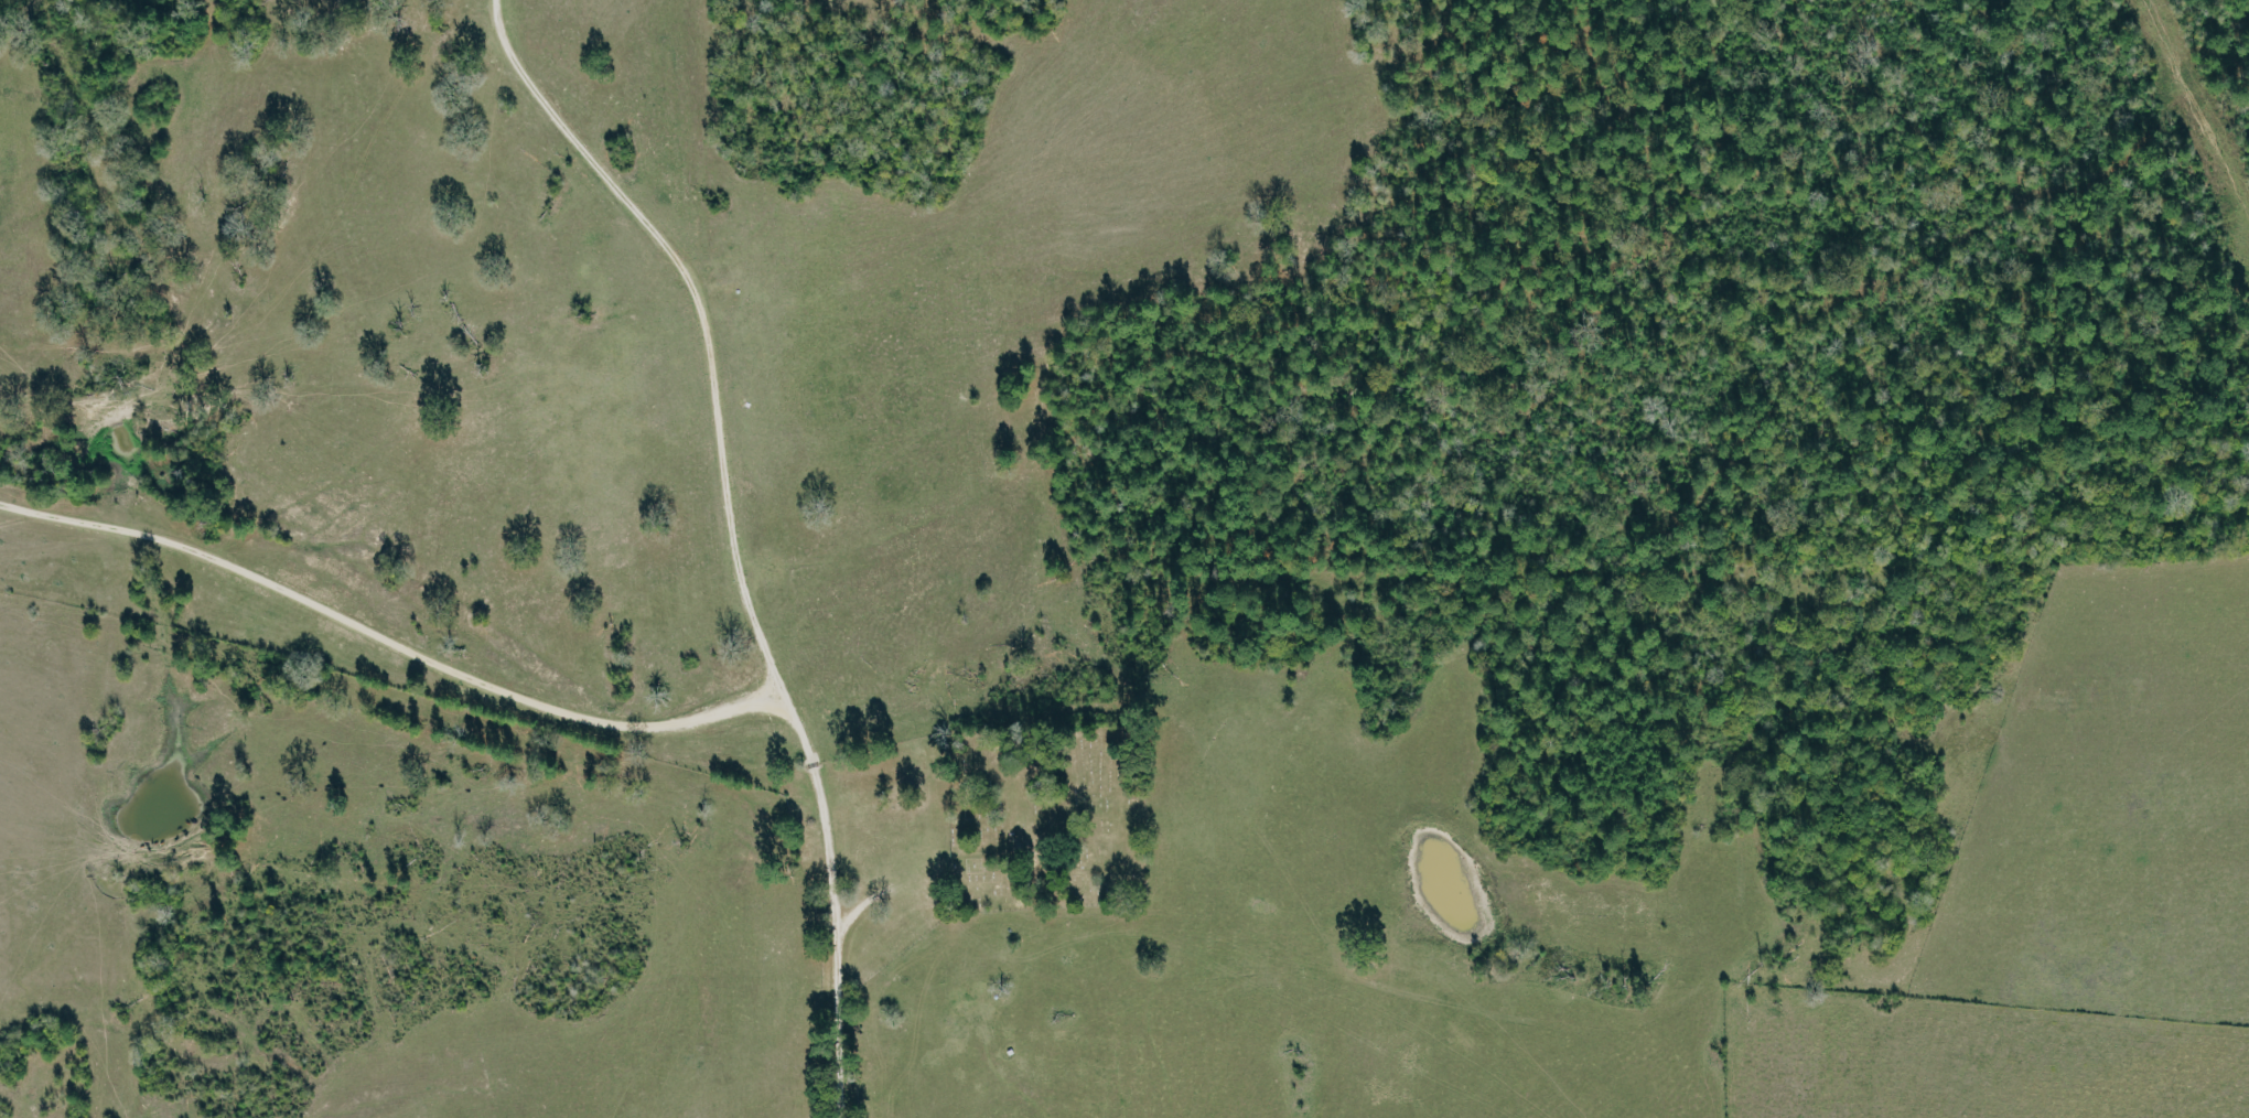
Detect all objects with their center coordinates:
park: (1045, 816)
road: (827, 852)

